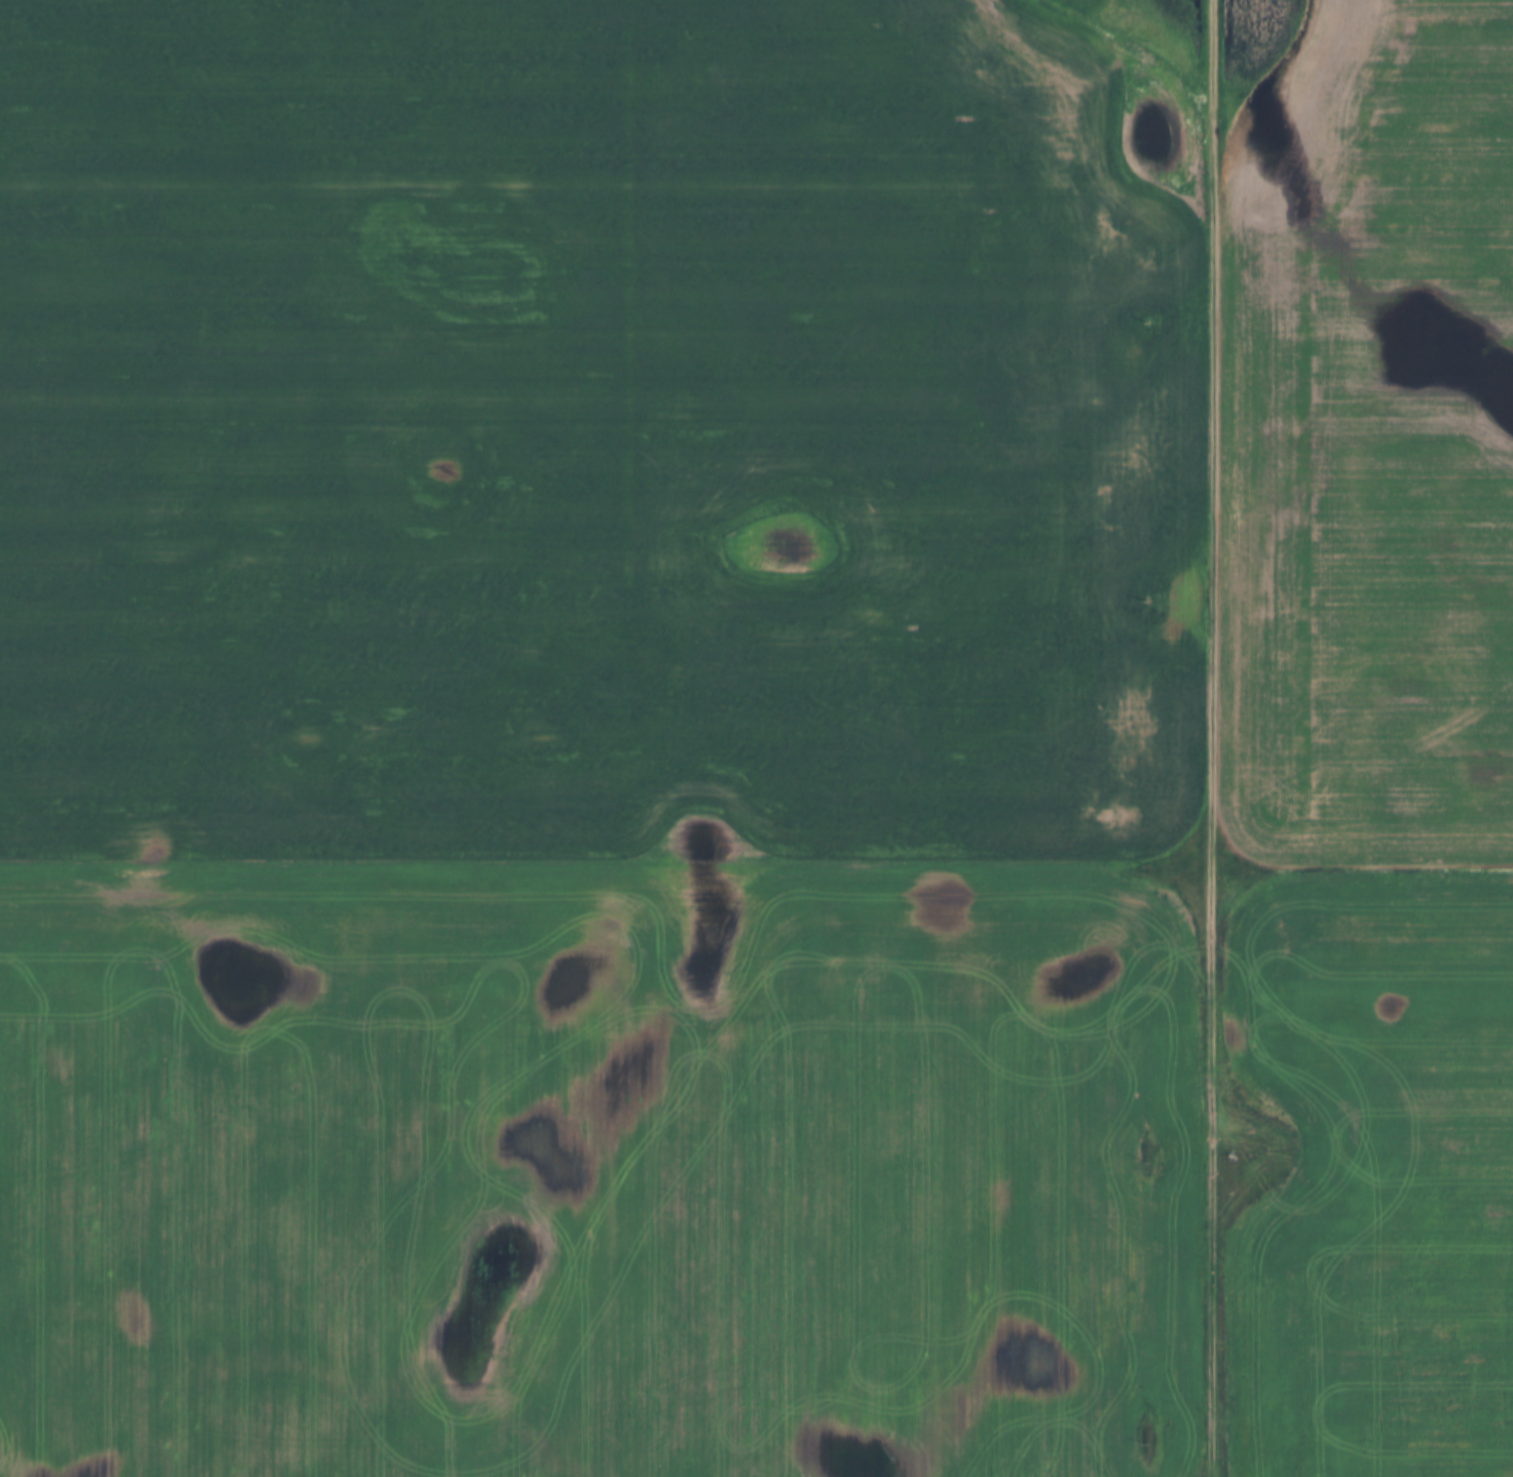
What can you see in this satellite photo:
road: (1213, 738)

